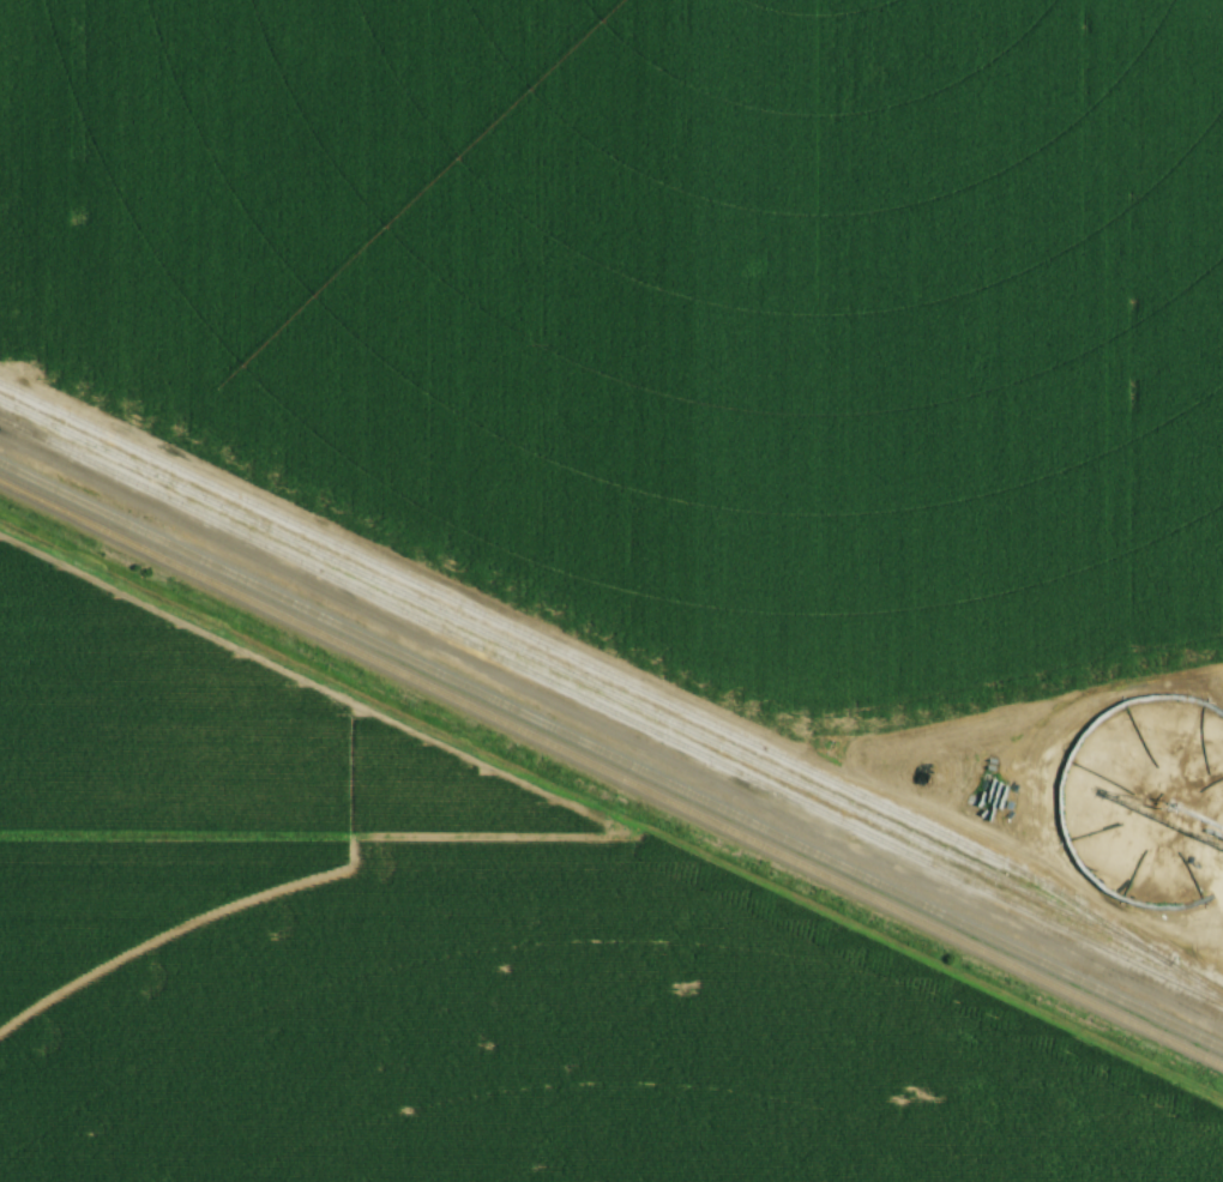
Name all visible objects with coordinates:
railway: (611, 707)
railway: (611, 755)
railway: (610, 773)

